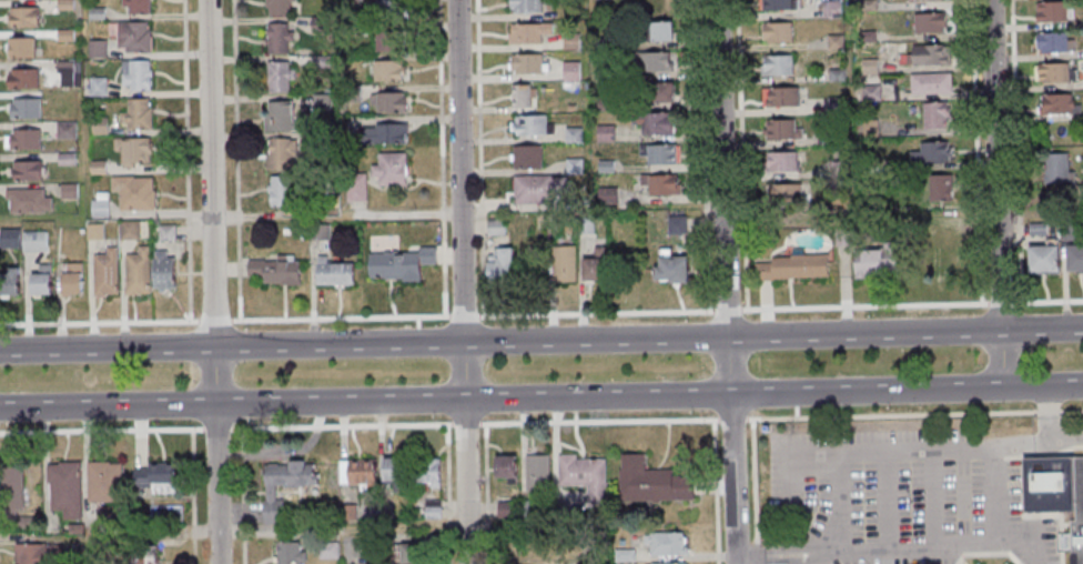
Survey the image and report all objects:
building: (924, 0)
building: (350, 2)
building: (62, 4)
building: (778, 4)
building: (524, 6)
building: (866, 6)
building: (134, 7)
building: (276, 7)
building: (829, 9)
building: (388, 10)
building: (1051, 11)
building: (94, 13)
building: (21, 17)
building: (928, 22)
building: (317, 24)
building: (351, 30)
building: (656, 31)
building: (526, 32)
building: (776, 32)
building: (62, 36)
building: (129, 36)
building: (866, 36)
building: (276, 38)
building: (388, 41)
building: (569, 41)
building: (833, 42)
building: (1052, 42)
building: (601, 43)
building: (19, 47)
building: (94, 48)
building: (927, 54)
building: (650, 61)
building: (318, 62)
building: (526, 64)
building: (775, 66)
building: (866, 66)
building: (385, 70)
building: (568, 72)
building: (67, 73)
building: (1053, 73)
building: (601, 74)
building: (834, 74)
building: (134, 75)
building: (277, 75)
building: (20, 79)
building: (929, 83)
building: (95, 85)
building: (655, 92)
building: (351, 93)
building: (869, 93)
building: (517, 97)
building: (780, 97)
building: (320, 102)
building: (386, 102)
building: (1055, 104)
building: (603, 105)
building: (833, 105)
building: (568, 108)
building: (22, 109)
building: (135, 114)
building: (932, 114)
building: (279, 118)
building: (652, 123)
building: (98, 125)
building: (528, 125)
building: (868, 129)
building: (779, 130)
building: (63, 131)
building: (604, 133)
building: (382, 134)
building: (570, 134)
building: (22, 139)
building: (320, 139)
building: (834, 139)
building: (131, 150)
building: (277, 153)
building: (658, 153)
building: (929, 153)
building: (525, 157)
building: (64, 159)
road: (182, 160)
building: (782, 161)
building: (95, 167)
building: (571, 167)
building: (604, 167)
building: (388, 169)
building: (839, 169)
building: (1054, 169)
building: (26, 171)
building: (659, 184)
building: (354, 187)
building: (322, 188)
building: (536, 189)
building: (938, 189)
building: (67, 191)
building: (132, 192)
building: (279, 192)
road: (995, 193)
building: (782, 194)
building: (605, 195)
building: (837, 200)
building: (869, 200)
building: (26, 201)
building: (98, 205)
building: (537, 220)
building: (584, 225)
building: (675, 225)
building: (931, 226)
building: (494, 228)
building: (1035, 229)
building: (126, 230)
building: (565, 230)
building: (92, 231)
building: (316, 232)
building: (164, 233)
building: (1066, 233)
building: (8, 238)
building: (841, 238)
building: (31, 241)
building: (1042, 258)
building: (1073, 259)
building: (872, 261)
building: (941, 263)
building: (399, 264)
building: (560, 264)
building: (497, 266)
building: (593, 266)
building: (668, 268)
building: (790, 268)
building: (273, 270)
building: (134, 272)
building: (160, 272)
building: (331, 272)
building: (102, 273)
building: (69, 278)
building: (38, 281)
road: (462, 281)
building: (8, 282)
road: (212, 282)
road: (725, 282)
road: (657, 311)
road: (208, 320)
road: (92, 321)
road: (541, 340)
road: (541, 397)
road: (191, 412)
road: (1045, 413)
road: (912, 415)
road: (729, 420)
road: (474, 424)
road: (216, 427)
road: (101, 429)
road: (1064, 437)
road: (1016, 444)
road: (863, 453)
building: (503, 469)
building: (425, 472)
building: (360, 474)
building: (391, 474)
building: (584, 474)
building: (535, 476)
building: (154, 477)
building: (650, 481)
building: (102, 482)
road: (445, 482)
building: (282, 485)
road: (750, 487)
building: (62, 489)
road: (192, 491)
building: (1059, 491)
road: (713, 492)
road: (485, 494)
road: (992, 494)
road: (242, 495)
parking lot: (902, 497)
building: (11, 500)
road: (931, 502)
road: (884, 503)
road: (838, 504)
building: (431, 508)
building: (522, 508)
building: (503, 510)
building: (345, 512)
building: (105, 518)
building: (73, 528)
building: (666, 543)
road: (944, 547)
building: (358, 548)
road: (786, 550)
building: (326, 551)
building: (286, 553)
building: (39, 554)
building: (408, 554)
building: (144, 555)
building: (103, 556)
building: (623, 556)
road: (820, 558)
road: (762, 561)
building: (669, 563)

